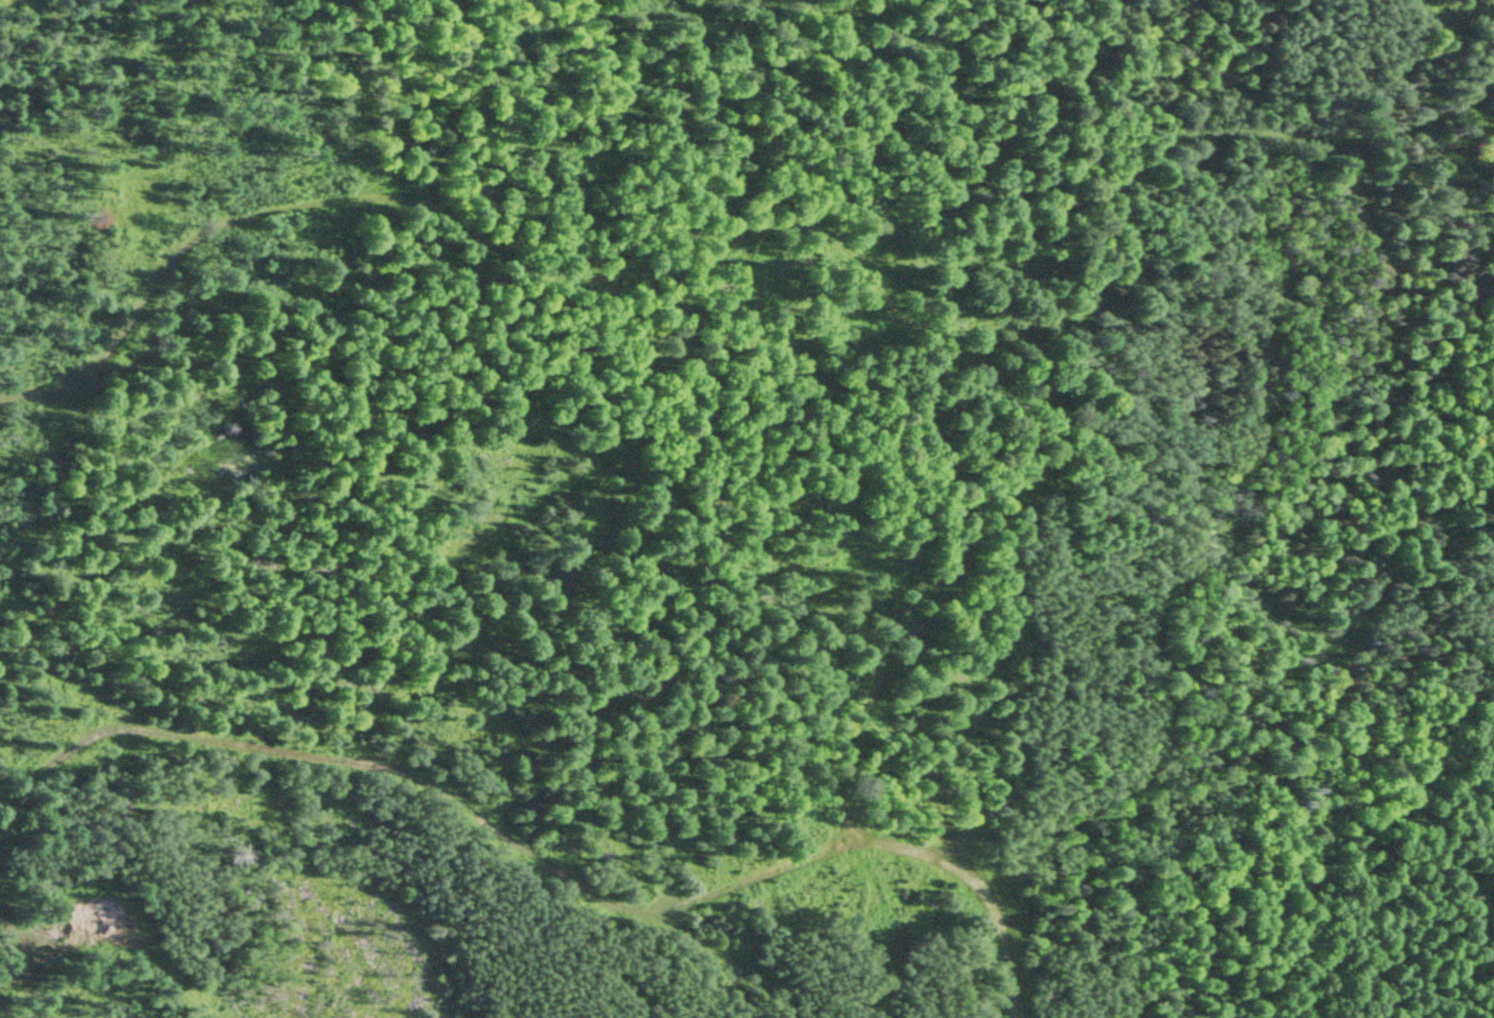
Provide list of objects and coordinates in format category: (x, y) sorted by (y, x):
road: (25, 960)

